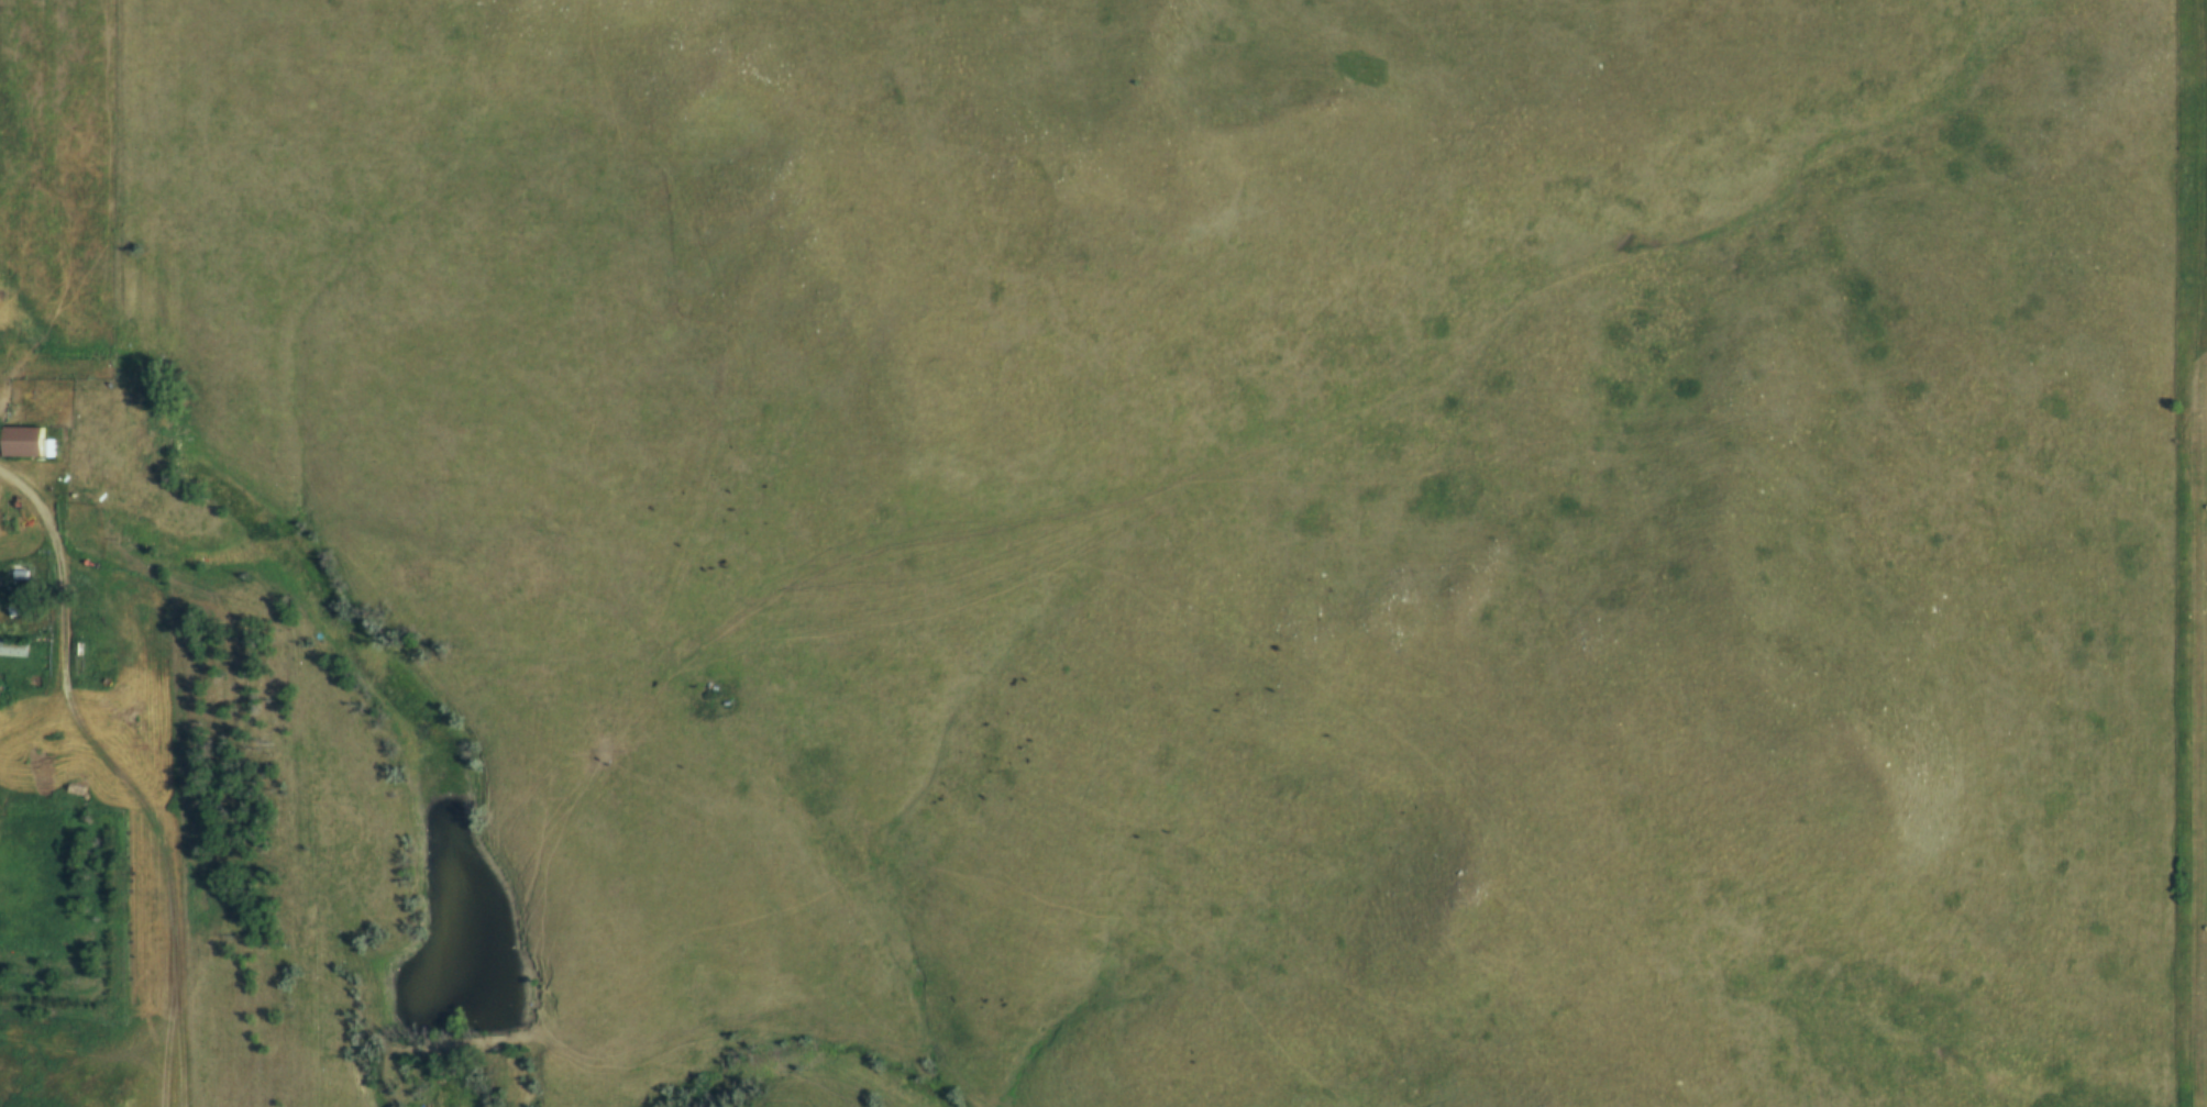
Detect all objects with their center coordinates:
building: (26, 441)
building: (12, 649)

